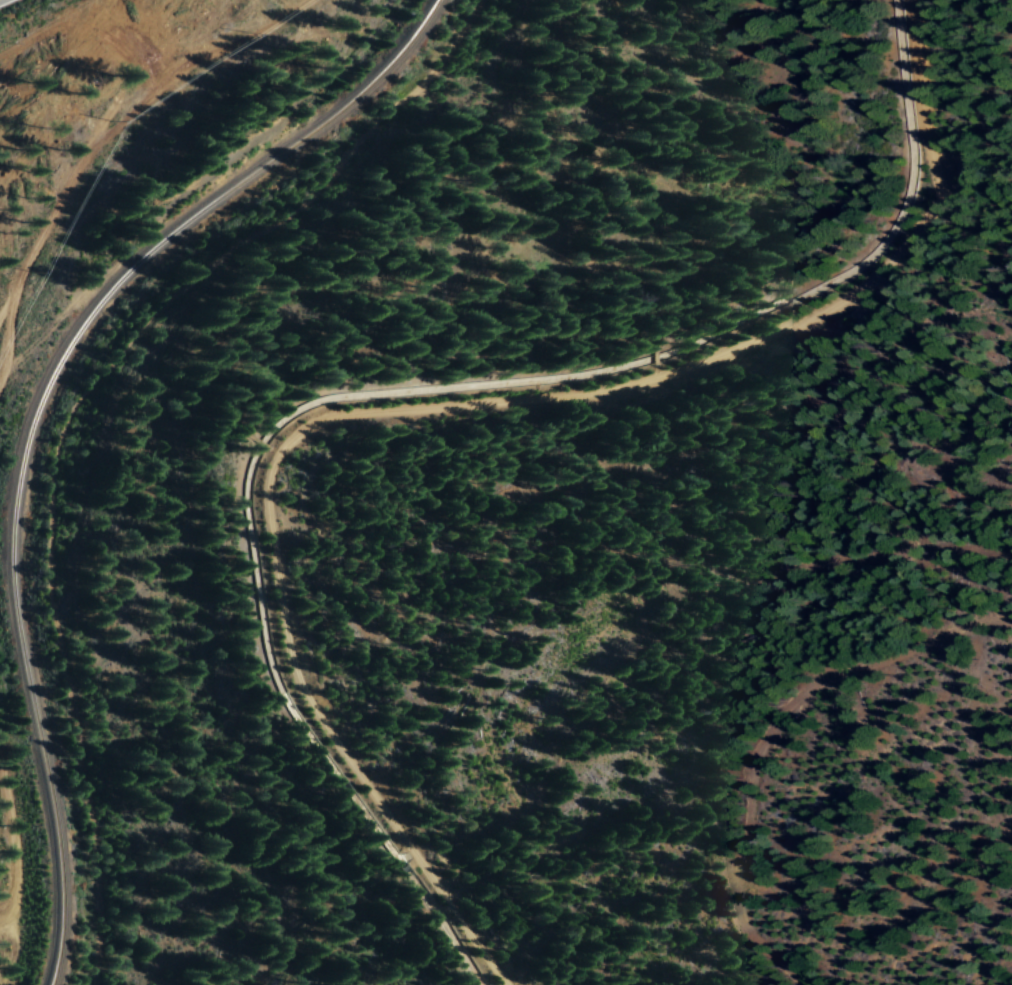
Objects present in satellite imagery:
railway: (40, 411)
road: (502, 430)

